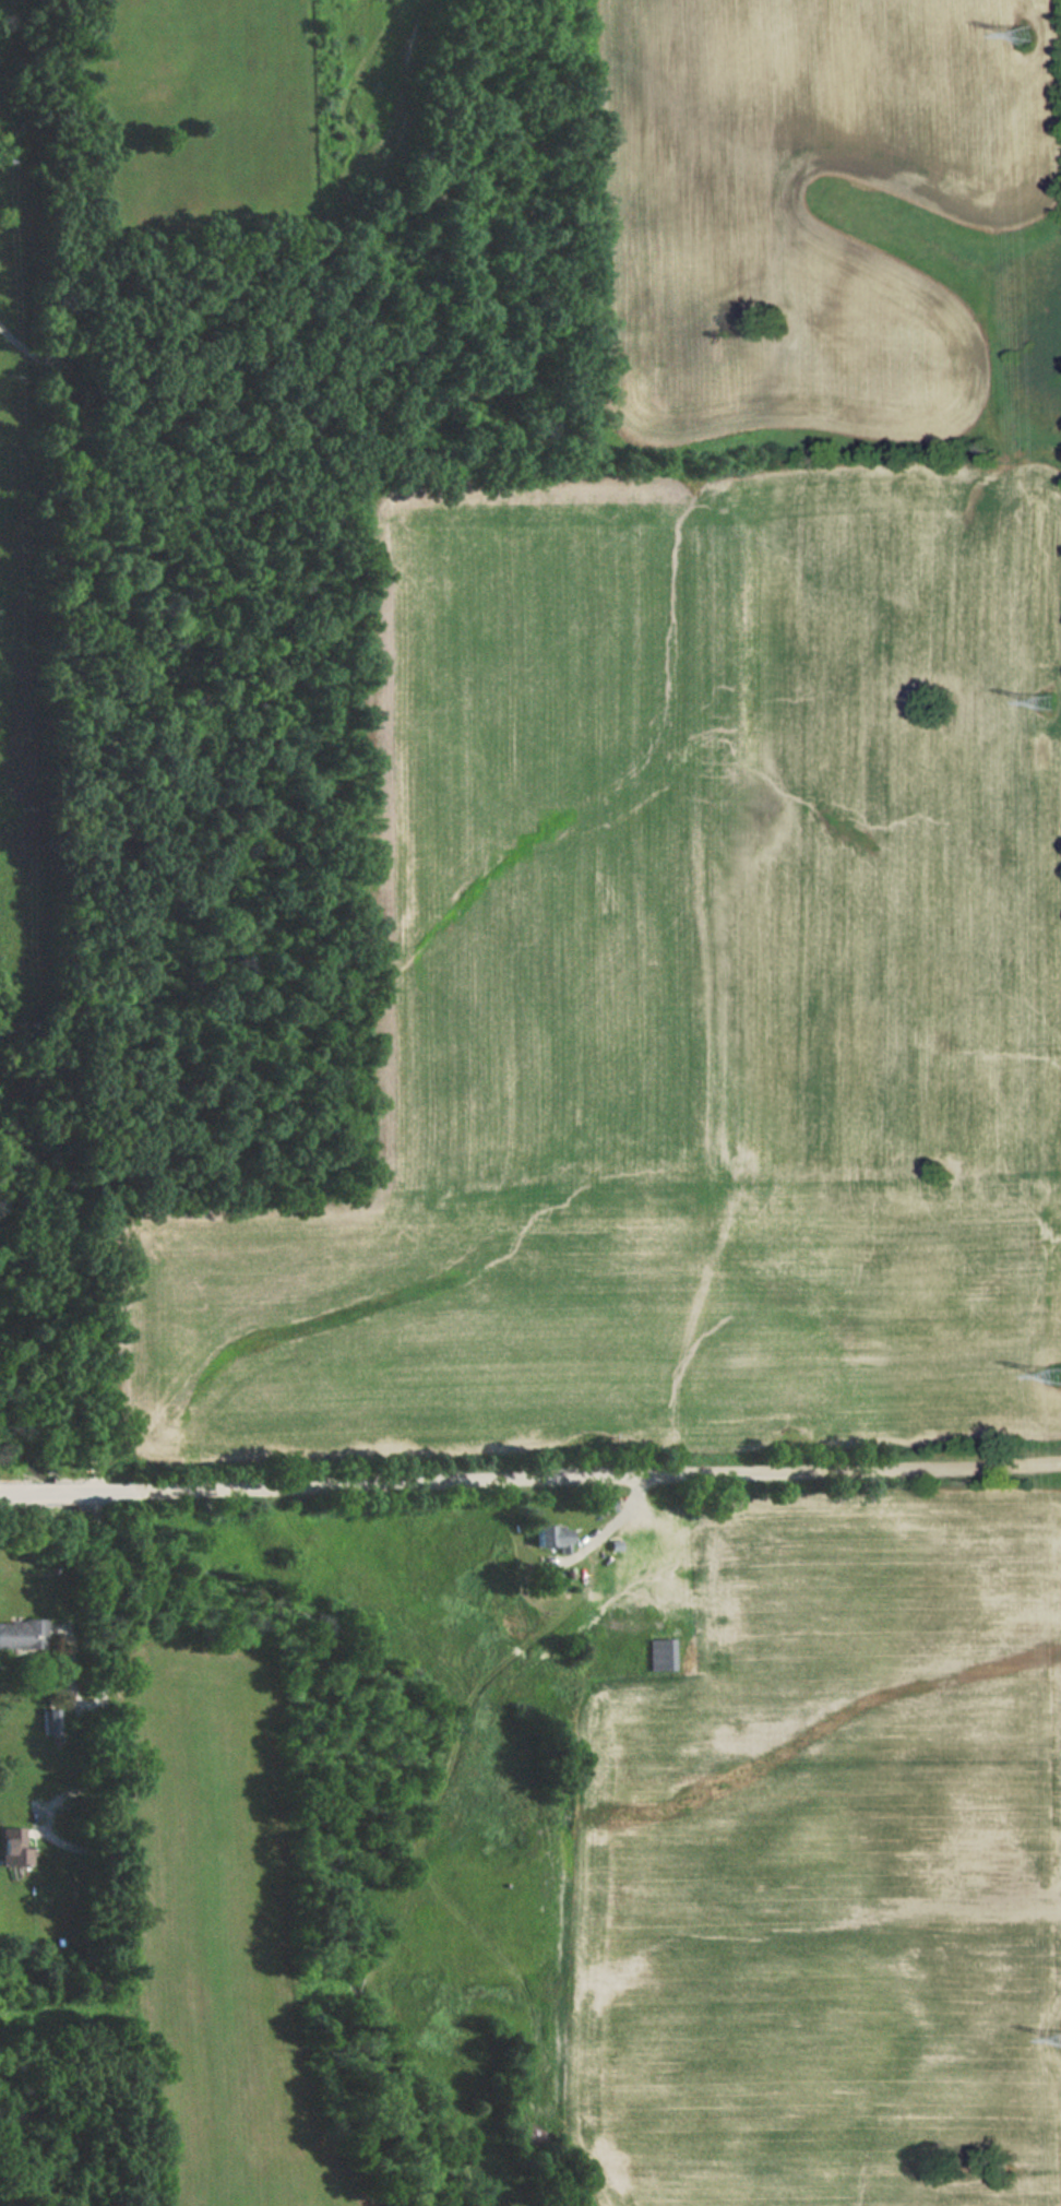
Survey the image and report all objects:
power tower: (1033, 28)
road: (12, 339)
power tower: (1050, 702)
road: (81, 911)
road: (577, 1473)
road: (47, 1490)
building: (607, 1503)
road: (636, 1509)
road: (608, 1528)
building: (553, 1535)
building: (649, 1543)
road: (100, 1591)
building: (22, 1635)
building: (659, 1655)
road: (70, 1672)
building: (47, 1721)
road: (105, 1762)
road: (43, 1817)
building: (15, 1846)
road: (78, 1850)

